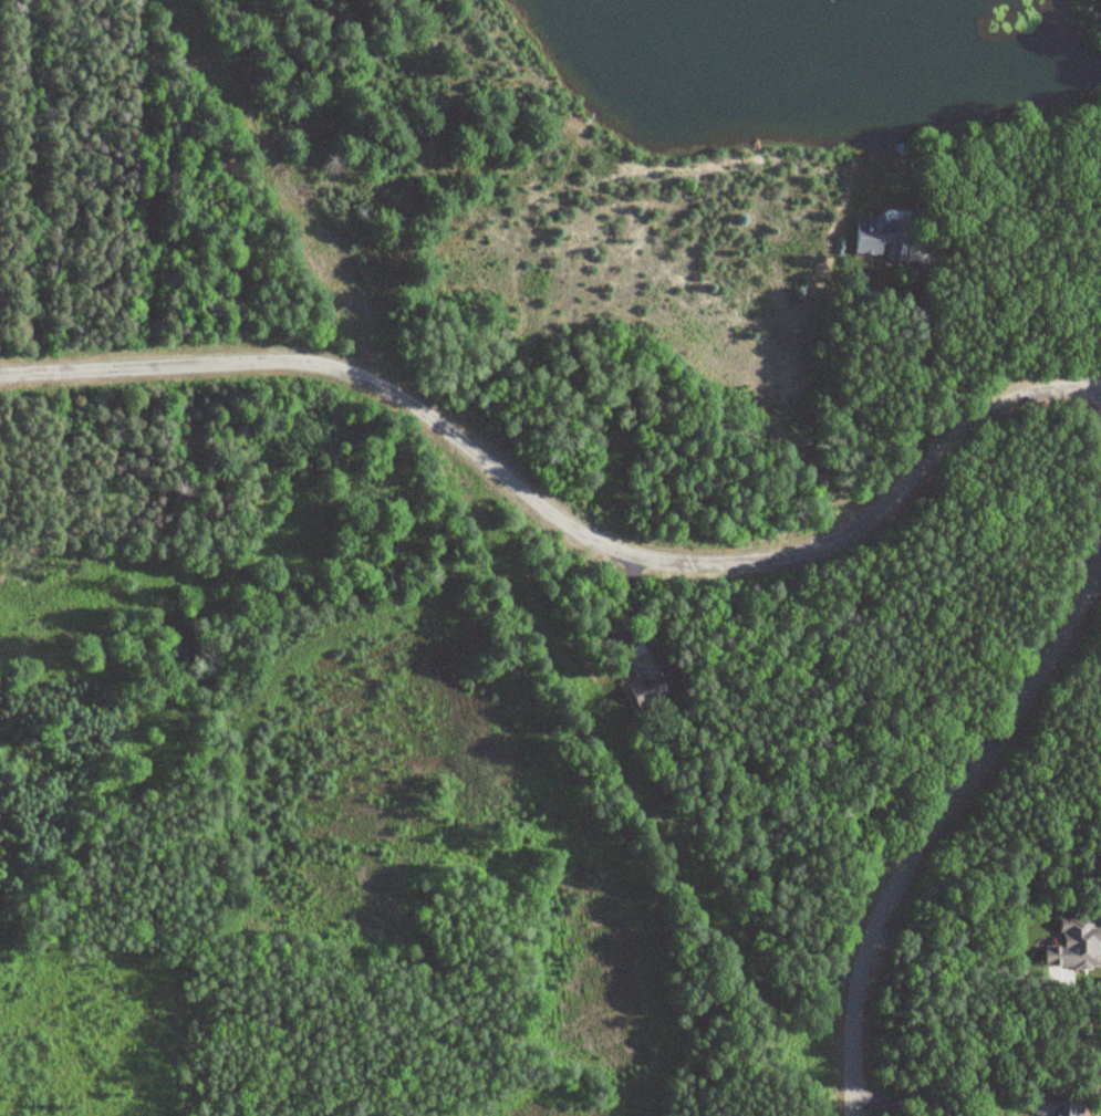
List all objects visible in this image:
building: (882, 236)
road: (557, 518)
building: (640, 669)
road: (937, 824)
road: (167, 890)
building: (1076, 927)
building: (1062, 1108)

